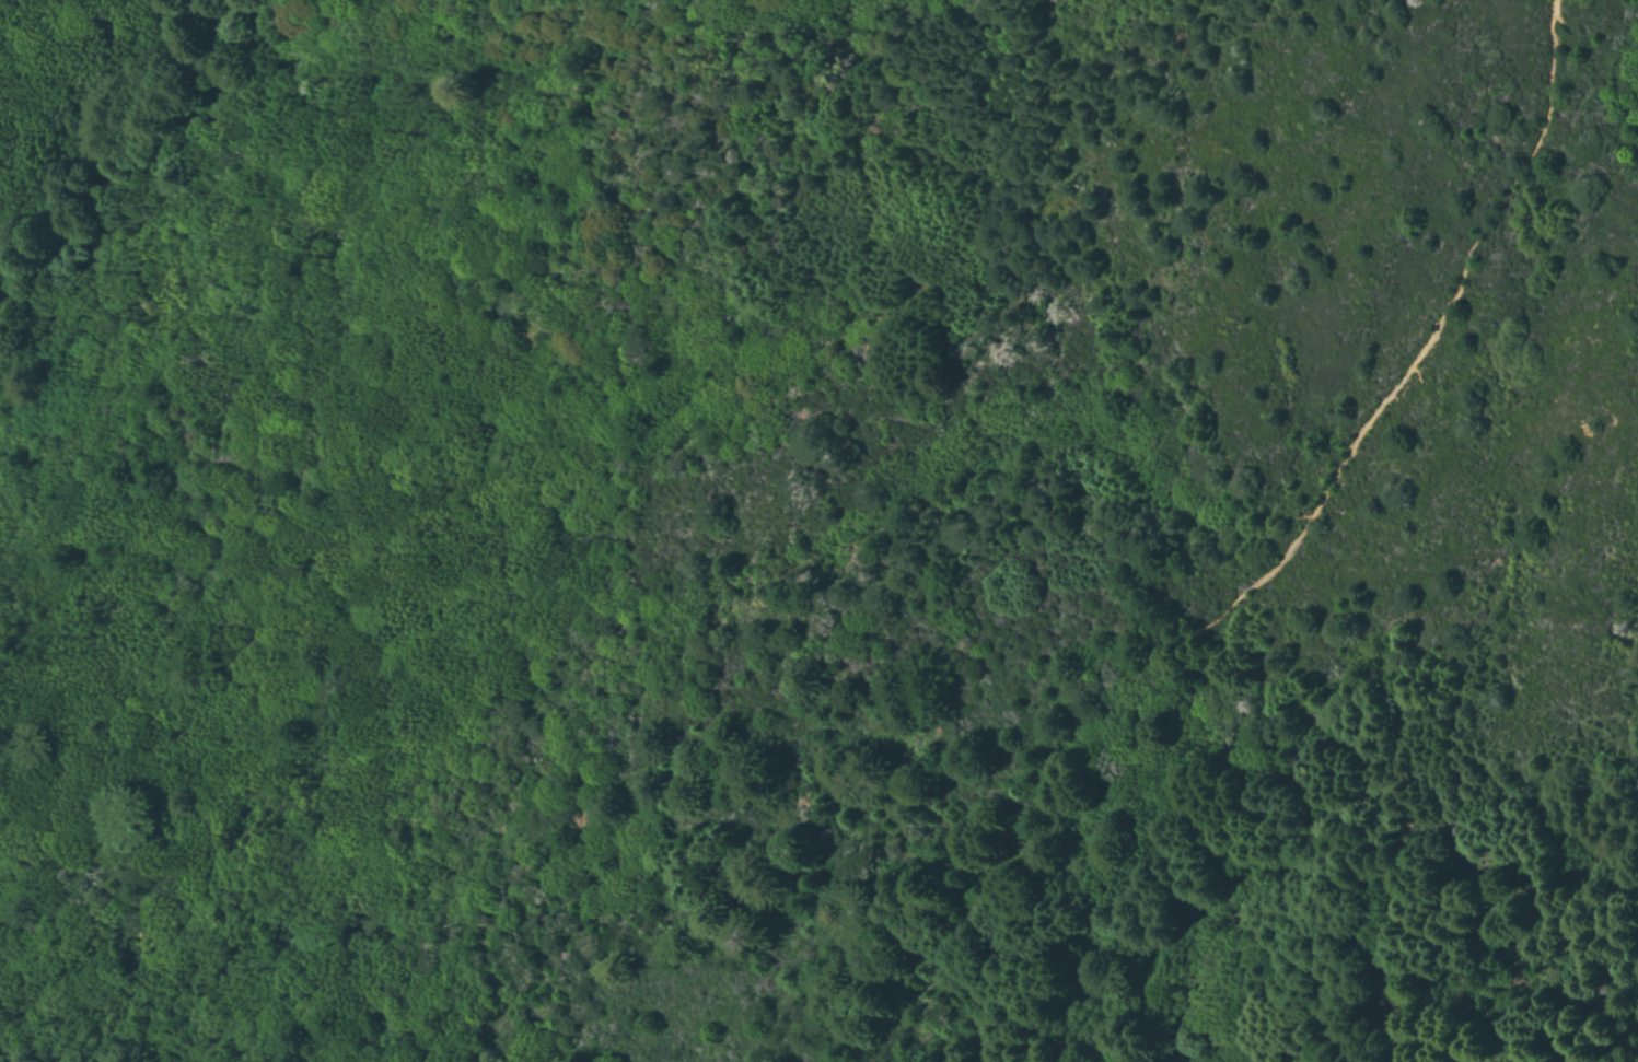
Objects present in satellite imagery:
road: (1274, 572)

